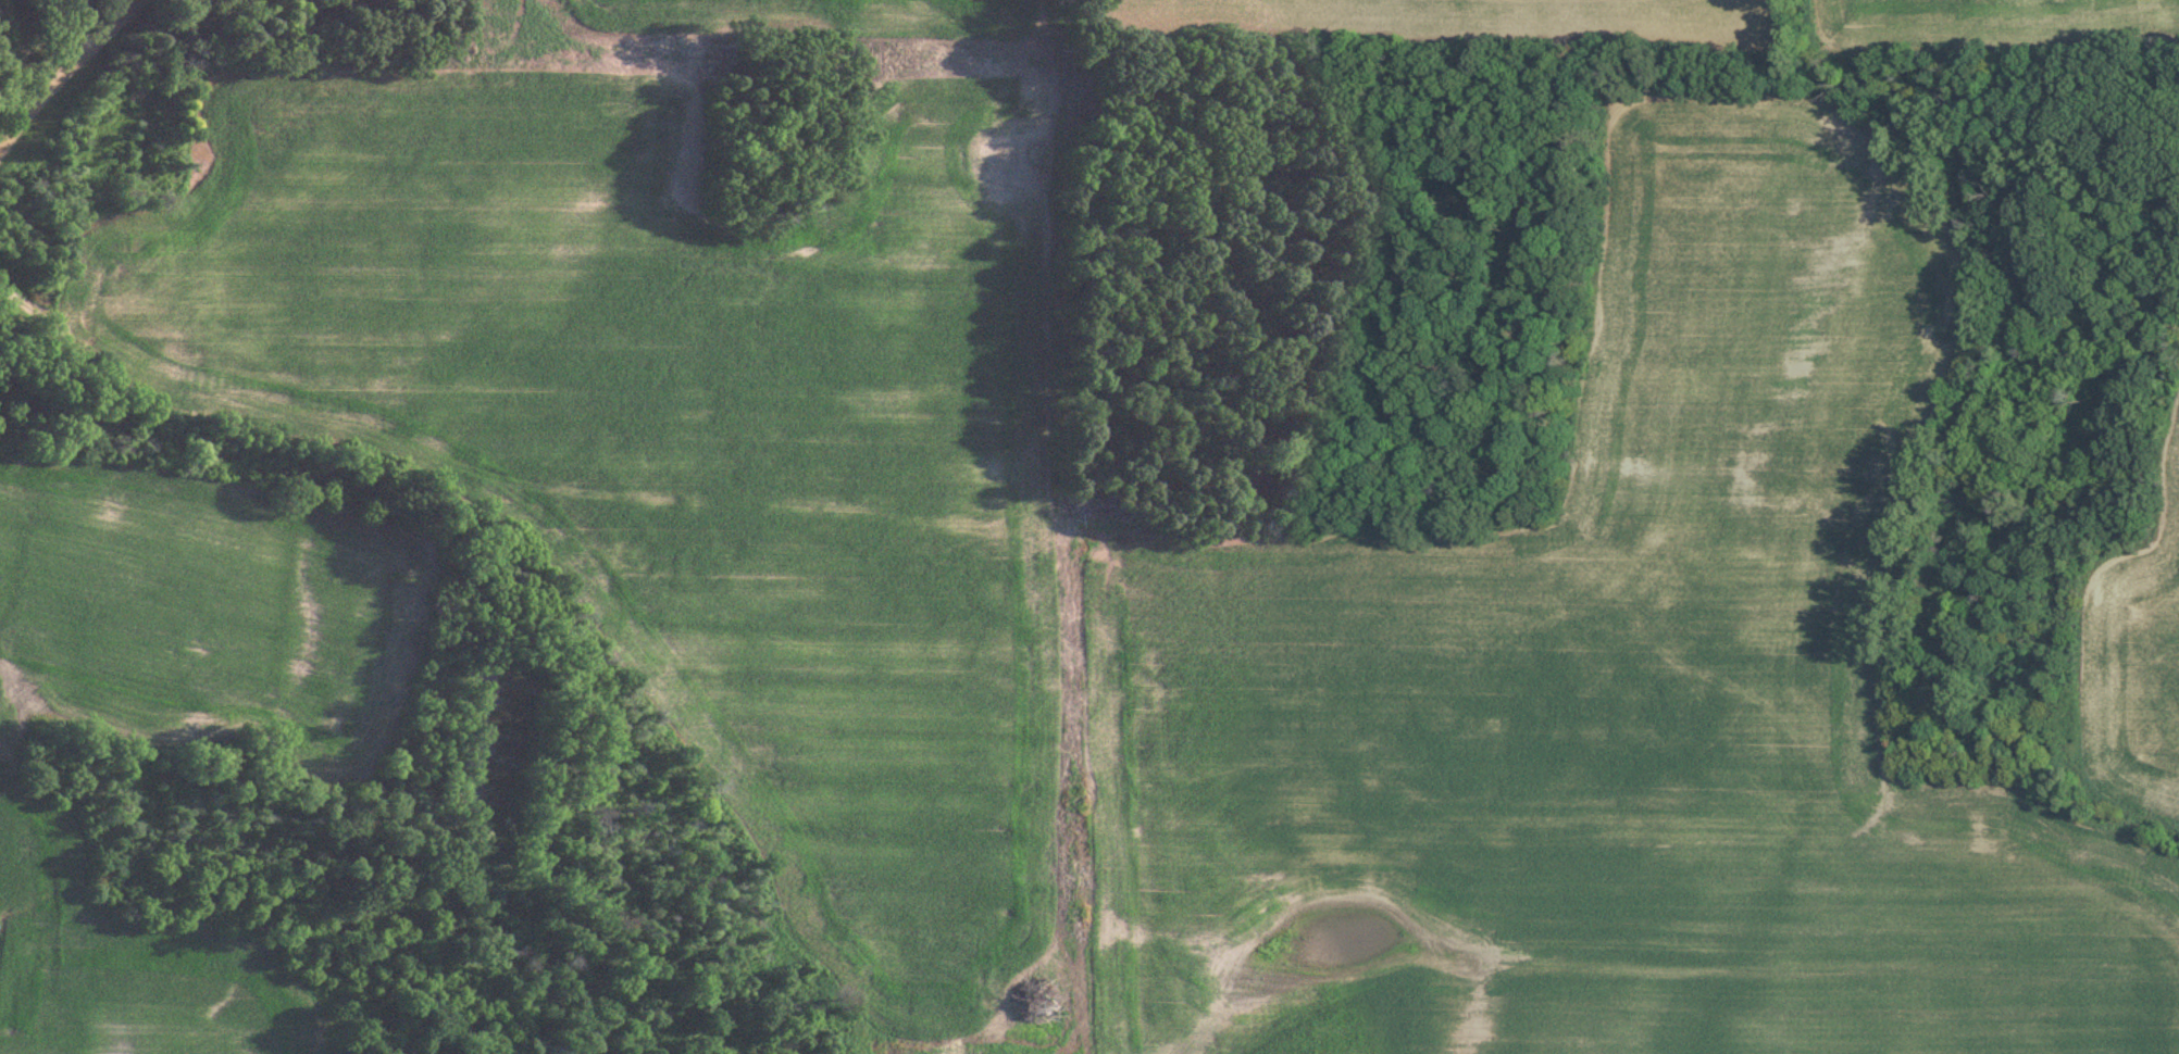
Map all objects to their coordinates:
river: (5, 1)
road: (66, 63)

